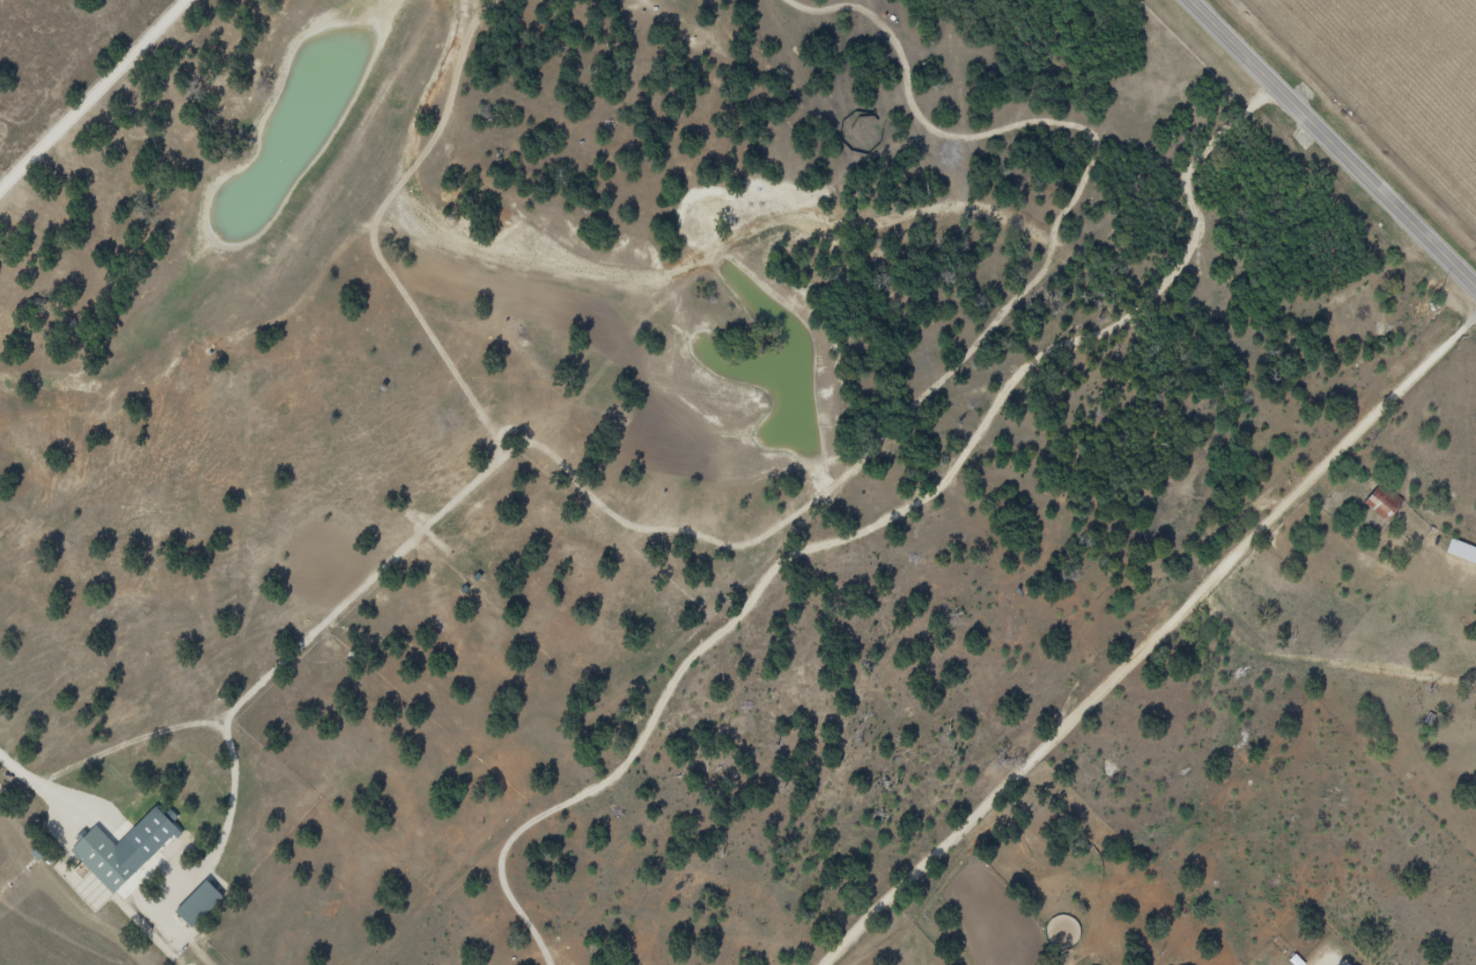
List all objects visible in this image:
road: (97, 97)
road: (1335, 141)
building: (1383, 502)
road: (1156, 647)
road: (42, 787)
building: (104, 861)

